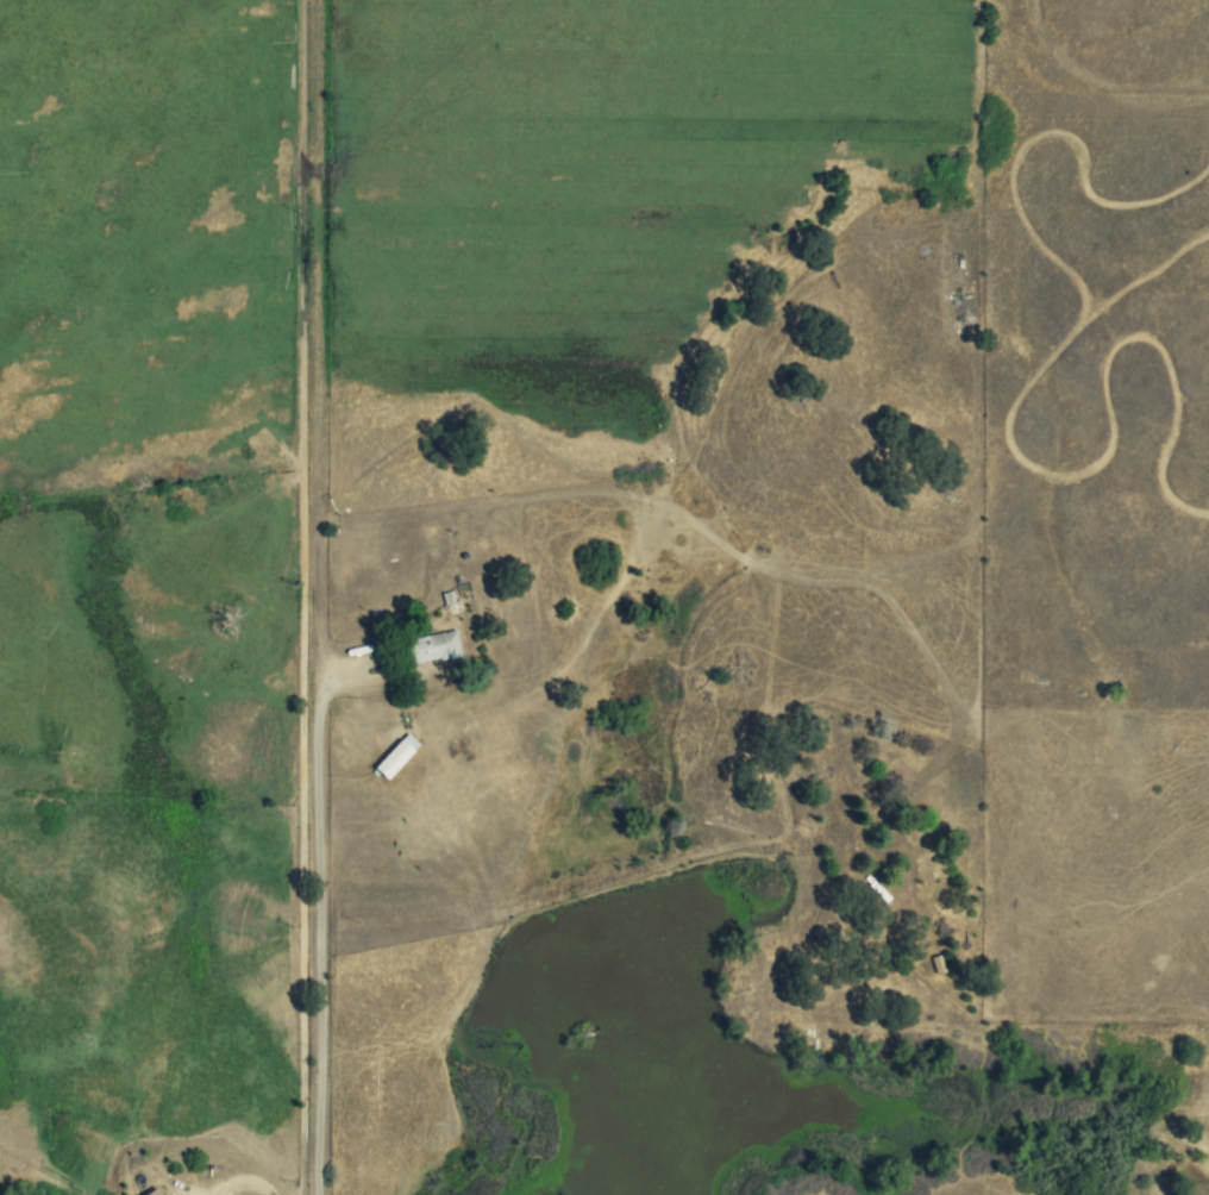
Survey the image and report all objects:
building: (433, 647)
building: (396, 756)
road: (319, 931)
building: (154, 1193)

